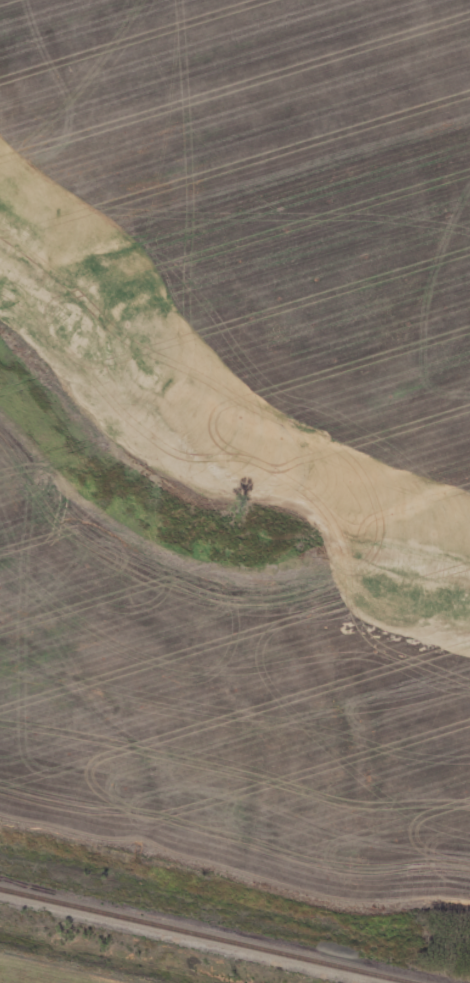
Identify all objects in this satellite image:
railway: (205, 935)

